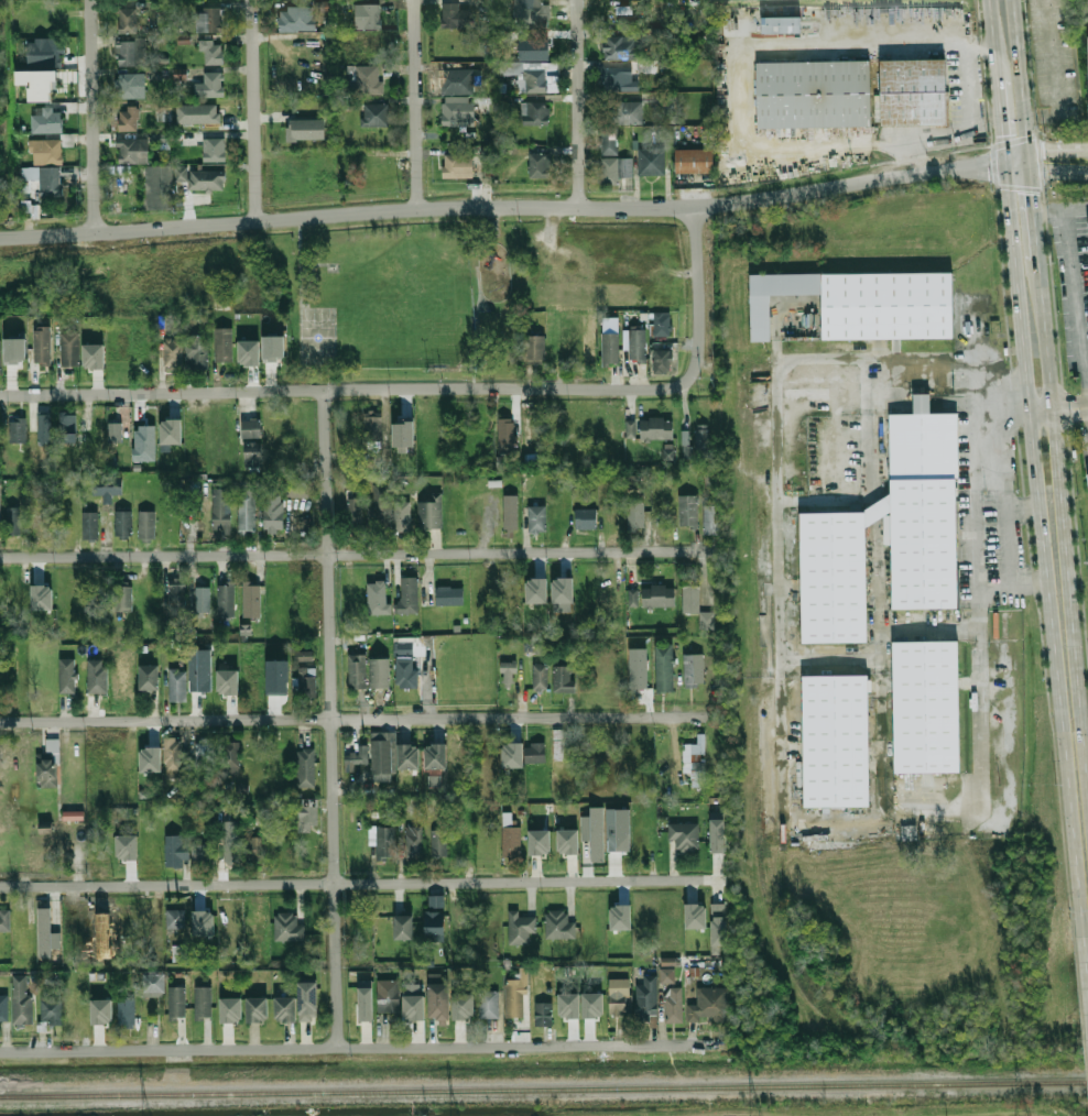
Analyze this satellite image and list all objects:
building: (324, 6)
building: (533, 12)
building: (369, 15)
building: (454, 15)
building: (290, 19)
building: (129, 20)
building: (209, 20)
building: (783, 24)
building: (660, 34)
road: (992, 40)
building: (1087, 43)
building: (623, 46)
building: (537, 48)
building: (213, 52)
building: (51, 54)
building: (131, 54)
building: (553, 69)
building: (527, 76)
building: (367, 78)
road: (1021, 79)
building: (457, 81)
building: (621, 81)
building: (36, 84)
building: (128, 86)
building: (210, 86)
building: (914, 91)
building: (815, 95)
road: (414, 103)
road: (577, 103)
road: (252, 110)
building: (459, 112)
building: (536, 113)
building: (628, 113)
building: (376, 116)
road: (91, 117)
building: (210, 117)
building: (47, 119)
building: (129, 119)
road: (965, 119)
building: (314, 122)
road: (1001, 122)
traffic signals: (1002, 133)
road: (1056, 147)
traffic signals: (1052, 149)
building: (214, 150)
building: (45, 151)
building: (134, 151)
building: (613, 161)
building: (696, 161)
building: (652, 162)
building: (458, 163)
building: (540, 165)
road: (1064, 166)
traffic signals: (986, 168)
road: (1056, 172)
building: (182, 173)
building: (46, 179)
building: (215, 183)
building: (156, 187)
traffic signals: (1032, 195)
road: (515, 207)
road: (1059, 207)
building: (30, 208)
road: (1033, 209)
road: (301, 262)
road: (318, 264)
park: (370, 287)
road: (1075, 303)
building: (889, 305)
road: (303, 306)
park: (412, 308)
building: (760, 319)
building: (664, 322)
park: (317, 337)
building: (273, 344)
building: (639, 344)
building: (43, 346)
building: (224, 346)
building: (70, 347)
building: (14, 349)
building: (611, 349)
building: (248, 350)
building: (536, 350)
building: (198, 351)
building: (93, 353)
building: (173, 353)
building: (663, 358)
building: (0, 361)
road: (916, 368)
road: (433, 391)
road: (986, 397)
road: (1057, 409)
building: (44, 427)
building: (68, 427)
building: (657, 428)
building: (115, 429)
building: (170, 429)
building: (252, 429)
building: (374, 429)
building: (17, 430)
building: (630, 430)
building: (402, 434)
building: (505, 437)
building: (143, 440)
building: (703, 441)
building: (924, 441)
building: (686, 444)
road: (775, 449)
building: (668, 450)
building: (254, 455)
road: (878, 456)
building: (1087, 477)
building: (633, 482)
building: (1087, 482)
building: (109, 486)
building: (295, 489)
road: (998, 493)
road: (1063, 493)
building: (381, 505)
building: (221, 508)
road: (878, 510)
building: (274, 511)
building: (689, 511)
building: (356, 512)
building: (248, 513)
building: (511, 513)
building: (428, 515)
building: (637, 515)
building: (711, 516)
building: (403, 517)
building: (538, 519)
building: (587, 519)
building: (13, 521)
building: (124, 523)
building: (90, 525)
building: (148, 525)
building: (43, 528)
road: (1043, 536)
building: (927, 543)
road: (361, 557)
road: (878, 562)
building: (835, 576)
building: (535, 590)
building: (562, 590)
building: (176, 595)
building: (410, 595)
building: (450, 595)
building: (660, 597)
building: (42, 598)
building: (379, 598)
building: (632, 598)
building: (124, 599)
building: (203, 599)
building: (692, 599)
building: (252, 600)
building: (227, 601)
building: (706, 621)
road: (881, 637)
road: (875, 642)
building: (304, 656)
building: (665, 669)
building: (694, 669)
building: (199, 670)
building: (358, 671)
building: (379, 672)
building: (406, 672)
building: (510, 675)
building: (68, 676)
building: (98, 676)
building: (276, 677)
building: (541, 677)
building: (151, 678)
building: (564, 679)
building: (639, 679)
building: (227, 682)
building: (308, 682)
building: (178, 685)
road: (976, 702)
building: (928, 705)
road: (334, 720)
road: (363, 720)
building: (837, 741)
building: (797, 742)
building: (557, 744)
building: (698, 748)
road: (884, 751)
building: (383, 753)
building: (535, 753)
building: (512, 755)
building: (205, 756)
building: (407, 756)
building: (435, 756)
building: (172, 757)
building: (232, 757)
building: (356, 758)
building: (76, 759)
building: (148, 759)
building: (48, 762)
building: (306, 767)
road: (776, 806)
building: (73, 816)
building: (308, 818)
building: (618, 829)
building: (594, 833)
building: (717, 834)
building: (684, 835)
building: (511, 838)
building: (567, 841)
building: (385, 842)
building: (414, 842)
building: (538, 842)
building: (439, 843)
building: (231, 845)
building: (126, 846)
building: (175, 849)
building: (255, 849)
building: (200, 854)
road: (365, 886)
building: (436, 900)
road: (1087, 912)
building: (695, 915)
building: (620, 917)
building: (176, 919)
building: (4, 921)
building: (203, 922)
building: (559, 924)
building: (436, 927)
building: (520, 927)
building: (718, 927)
building: (289, 928)
building: (405, 928)
building: (46, 933)
building: (181, 954)
building: (668, 975)
building: (153, 983)
building: (617, 993)
building: (389, 996)
building: (306, 999)
building: (646, 999)
building: (440, 1000)
building: (177, 1002)
building: (203, 1002)
building: (514, 1002)
building: (365, 1004)
building: (489, 1004)
building: (591, 1004)
building: (568, 1005)
building: (674, 1005)
building: (709, 1005)
building: (413, 1007)
building: (463, 1007)
building: (4, 1008)
building: (284, 1008)
building: (23, 1009)
building: (230, 1009)
building: (257, 1009)
building: (52, 1010)
building: (78, 1010)
building: (101, 1011)
building: (127, 1011)
building: (544, 1014)
road: (366, 1048)
railway: (544, 1090)

